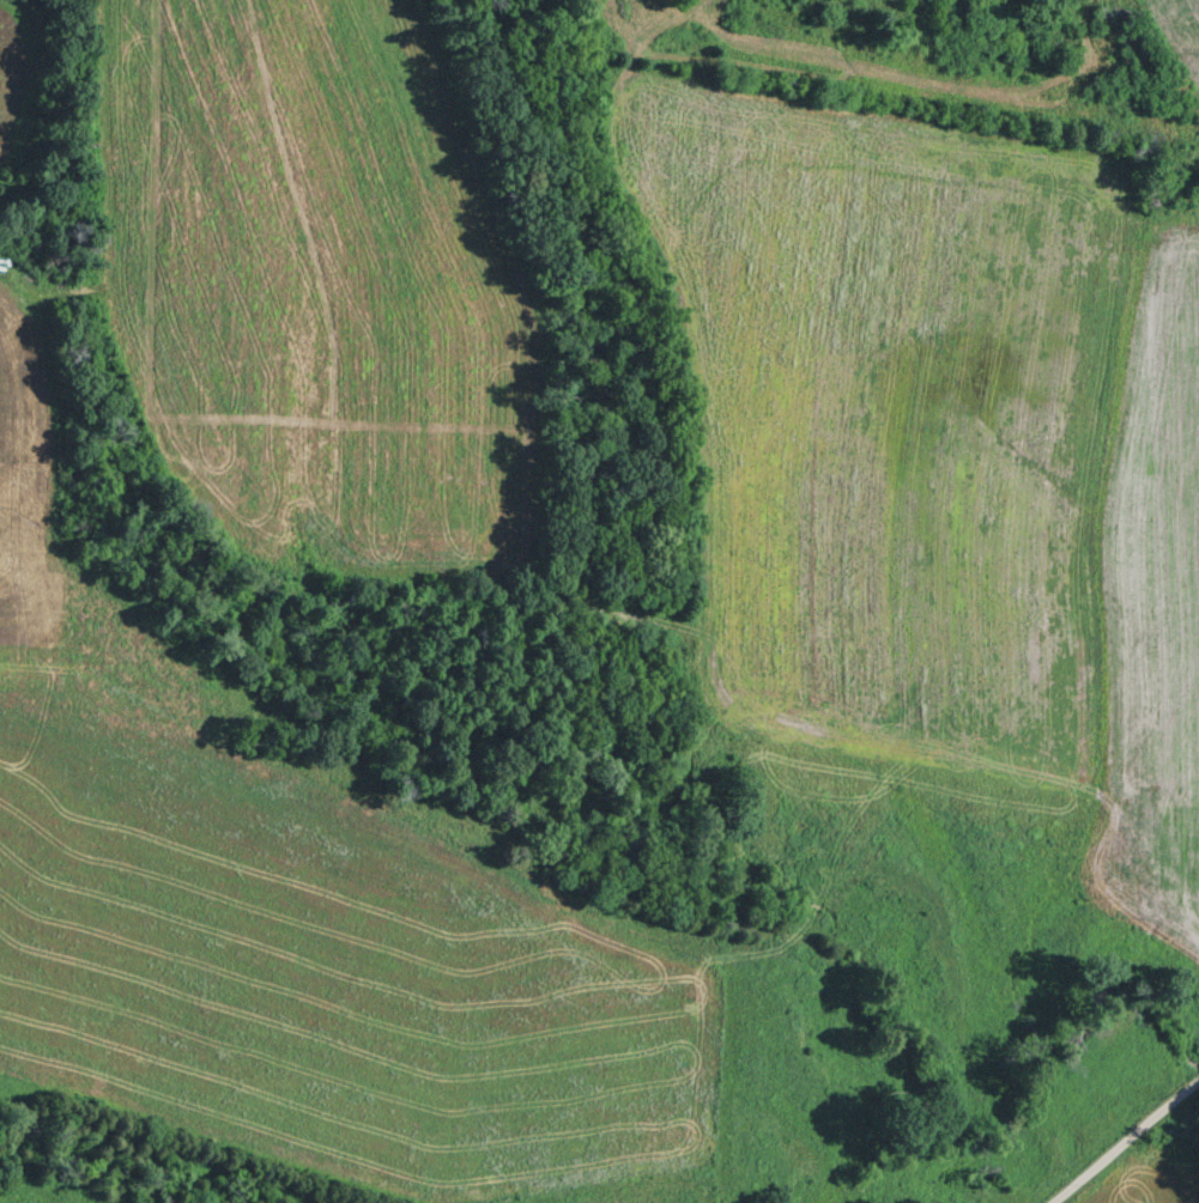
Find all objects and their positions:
road: (1125, 1141)

